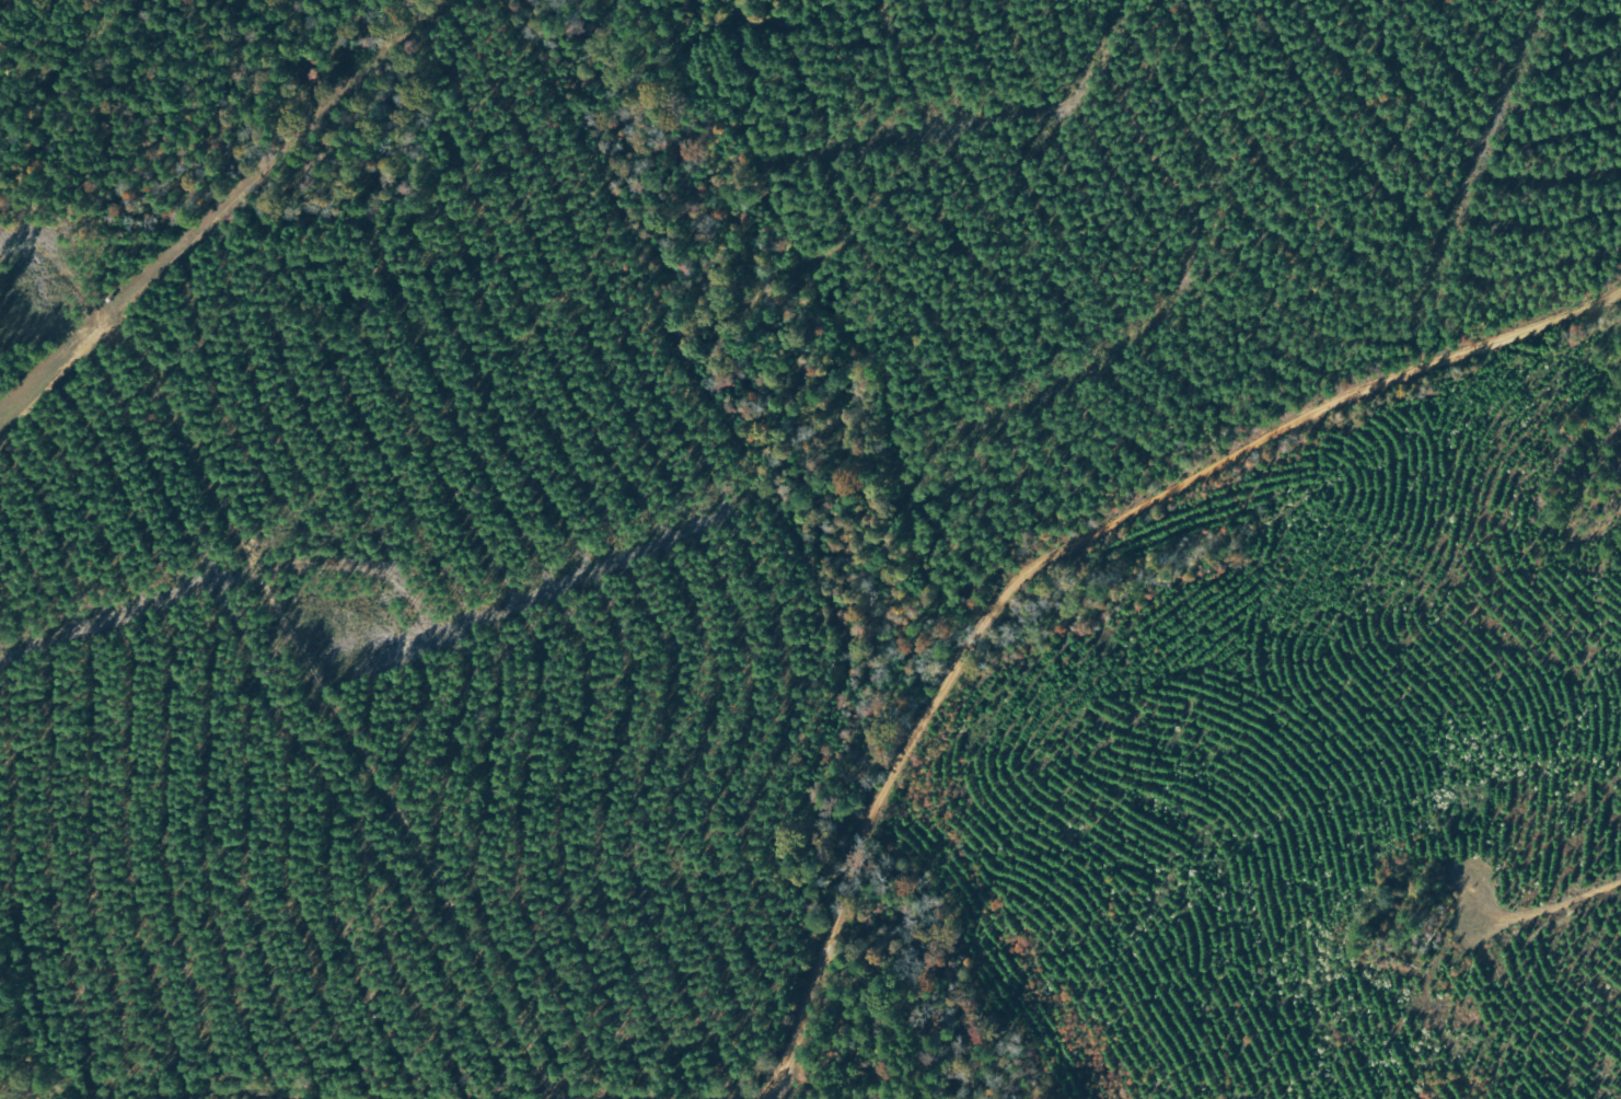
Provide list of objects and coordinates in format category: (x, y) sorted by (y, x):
road: (1128, 565)

